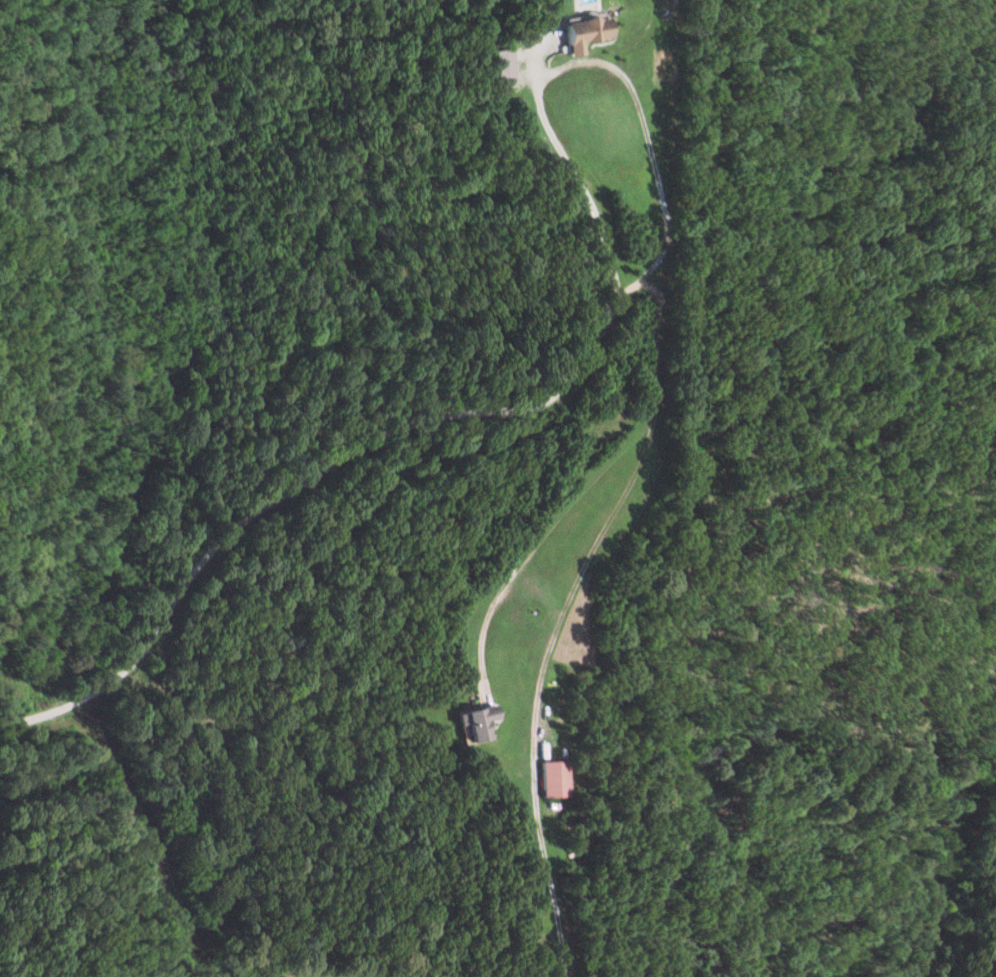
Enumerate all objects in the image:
building: (578, 34)
road: (566, 61)
building: (496, 69)
road: (523, 401)
building: (469, 721)
building: (548, 778)

